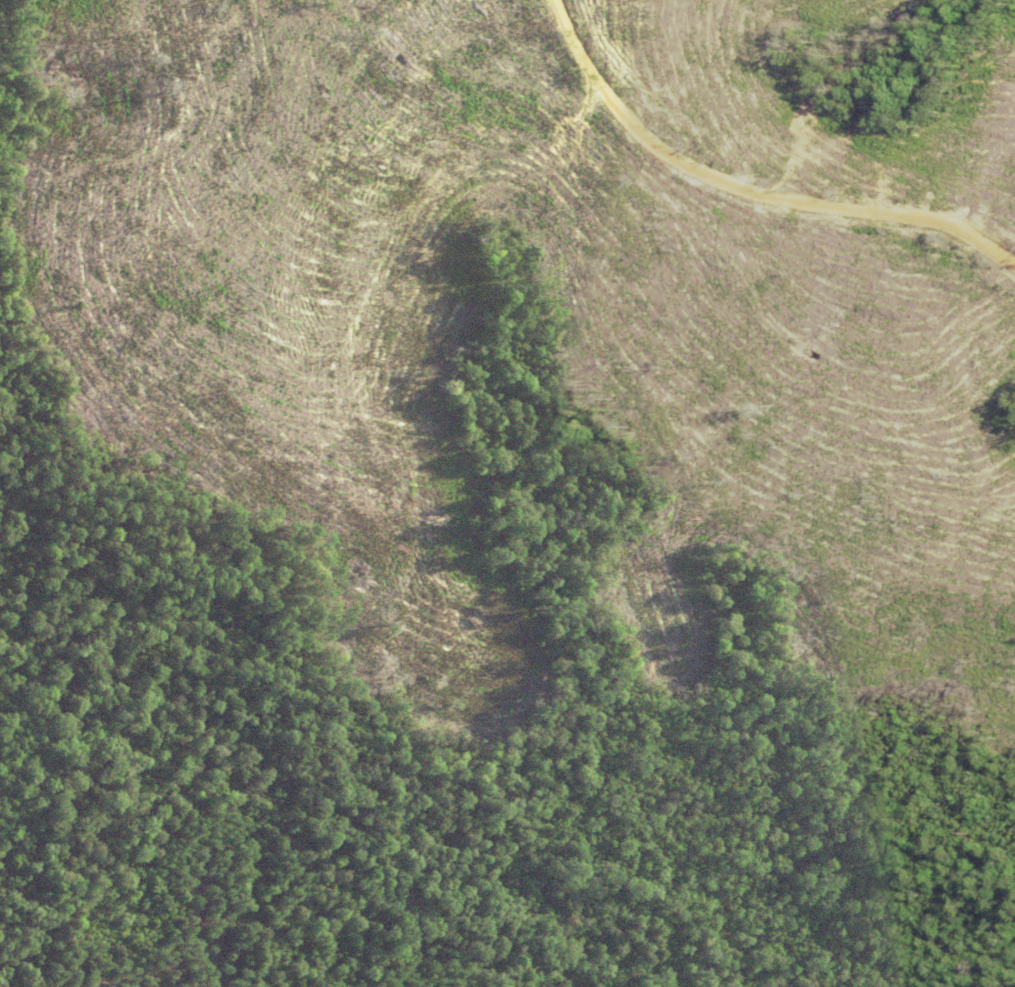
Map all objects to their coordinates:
road: (754, 181)

